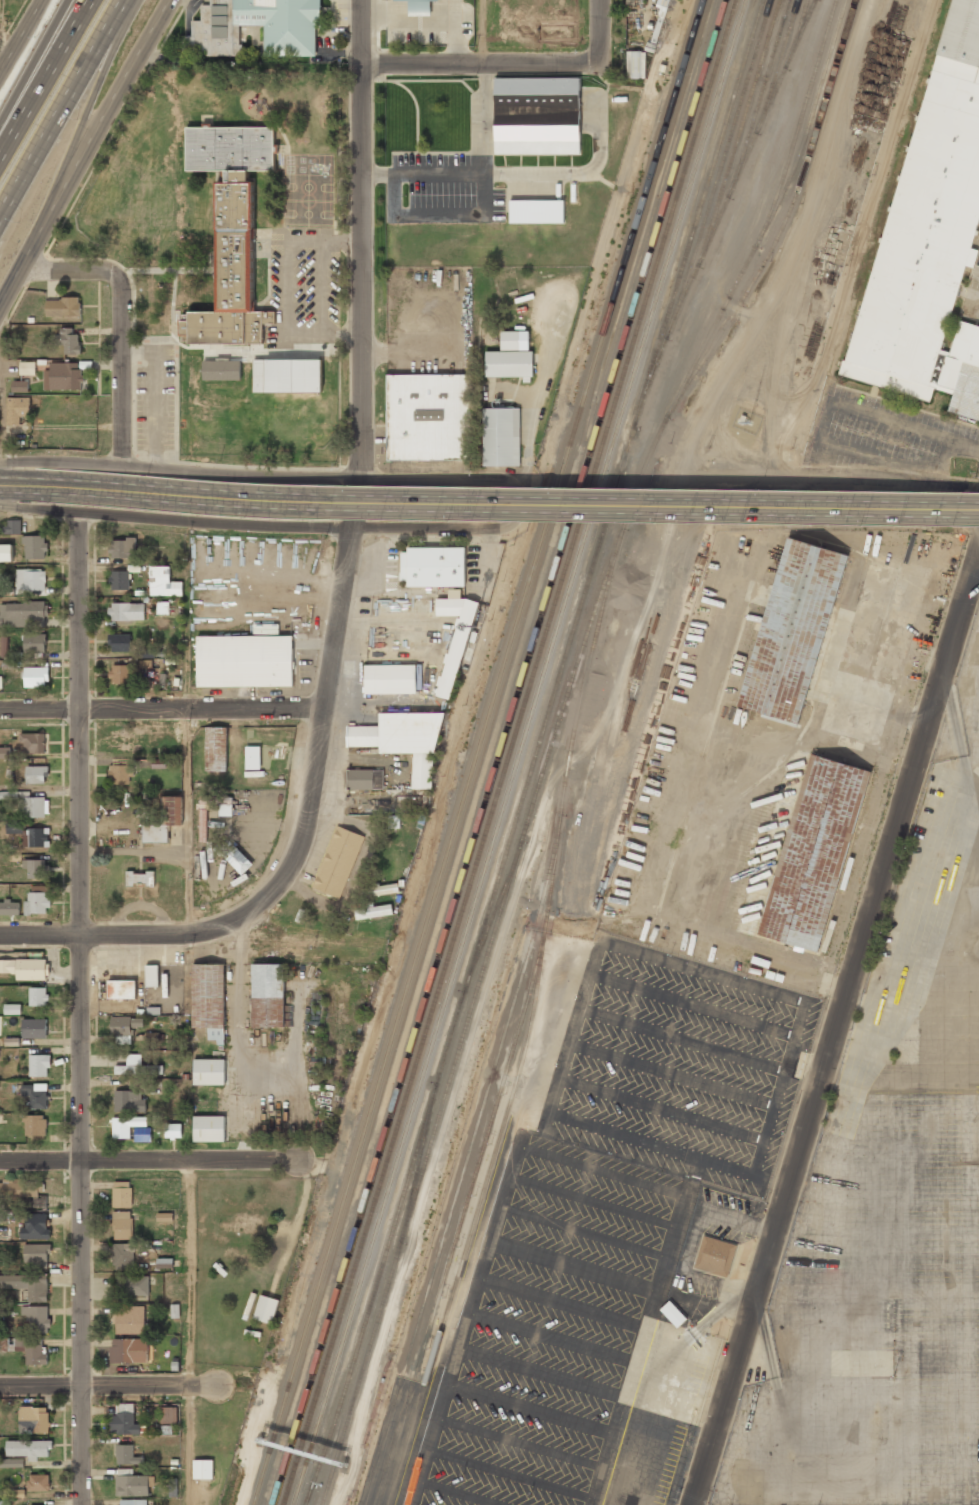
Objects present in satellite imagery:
building: (418, 7)
building: (289, 28)
road: (2, 31)
road: (480, 33)
road: (19, 34)
road: (599, 40)
road: (33, 60)
road: (1, 63)
building: (635, 64)
road: (468, 67)
road: (46, 78)
railway: (762, 90)
railway: (724, 100)
road: (65, 106)
building: (537, 115)
railway: (811, 117)
railway: (742, 124)
road: (80, 133)
railway: (722, 134)
railway: (793, 141)
road: (89, 155)
railway: (722, 159)
railway: (777, 166)
railway: (728, 195)
railway: (753, 206)
building: (536, 211)
railway: (735, 227)
building: (932, 233)
building: (231, 241)
building: (65, 308)
road: (122, 322)
building: (72, 347)
building: (512, 359)
building: (27, 368)
building: (222, 371)
building: (62, 377)
building: (289, 379)
building: (20, 386)
building: (17, 412)
building: (429, 421)
building: (502, 440)
road: (360, 478)
road: (28, 485)
road: (517, 505)
road: (517, 505)
building: (13, 527)
building: (35, 548)
building: (122, 548)
building: (5, 552)
road: (978, 558)
road: (978, 561)
building: (433, 568)
building: (30, 580)
building: (119, 580)
building: (162, 583)
building: (162, 609)
building: (126, 611)
building: (22, 614)
railway: (561, 628)
building: (792, 632)
building: (455, 638)
building: (34, 643)
building: (119, 643)
building: (5, 646)
building: (147, 653)
building: (245, 662)
building: (119, 675)
building: (35, 677)
railway: (522, 678)
building: (390, 680)
building: (0, 681)
road: (162, 707)
road: (186, 728)
railway: (554, 737)
building: (33, 742)
building: (402, 743)
building: (124, 744)
building: (216, 749)
building: (5, 752)
railway: (477, 752)
railway: (509, 752)
railway: (536, 754)
building: (252, 758)
building: (119, 774)
building: (37, 775)
building: (364, 780)
building: (34, 807)
building: (165, 821)
building: (14, 828)
building: (38, 838)
building: (814, 854)
building: (14, 858)
building: (238, 860)
building: (338, 863)
building: (33, 869)
building: (140, 879)
building: (385, 890)
building: (37, 900)
building: (10, 908)
building: (374, 913)
road: (40, 936)
road: (155, 936)
building: (24, 969)
building: (152, 975)
building: (122, 990)
building: (268, 996)
building: (38, 997)
building: (208, 1001)
road: (80, 1008)
building: (12, 1009)
building: (122, 1025)
building: (34, 1029)
railway: (529, 1031)
road: (831, 1033)
building: (39, 1066)
building: (130, 1066)
building: (209, 1073)
building: (35, 1094)
building: (130, 1102)
building: (34, 1126)
building: (130, 1129)
building: (209, 1129)
building: (174, 1131)
road: (148, 1160)
railway: (461, 1175)
building: (23, 1191)
building: (122, 1194)
building: (2, 1216)
building: (38, 1222)
building: (241, 1224)
building: (122, 1225)
railway: (458, 1234)
building: (37, 1254)
building: (123, 1256)
building: (714, 1256)
building: (242, 1260)
building: (164, 1263)
building: (28, 1286)
building: (132, 1286)
building: (266, 1310)
building: (37, 1317)
building: (129, 1320)
road: (189, 1332)
building: (32, 1349)
building: (129, 1351)
road: (107, 1384)
building: (168, 1416)
building: (127, 1419)
building: (35, 1420)
railway: (295, 1430)
building: (29, 1449)
building: (127, 1455)
building: (11, 1463)
building: (203, 1470)
building: (38, 1482)
building: (132, 1483)
building: (132, 1502)

